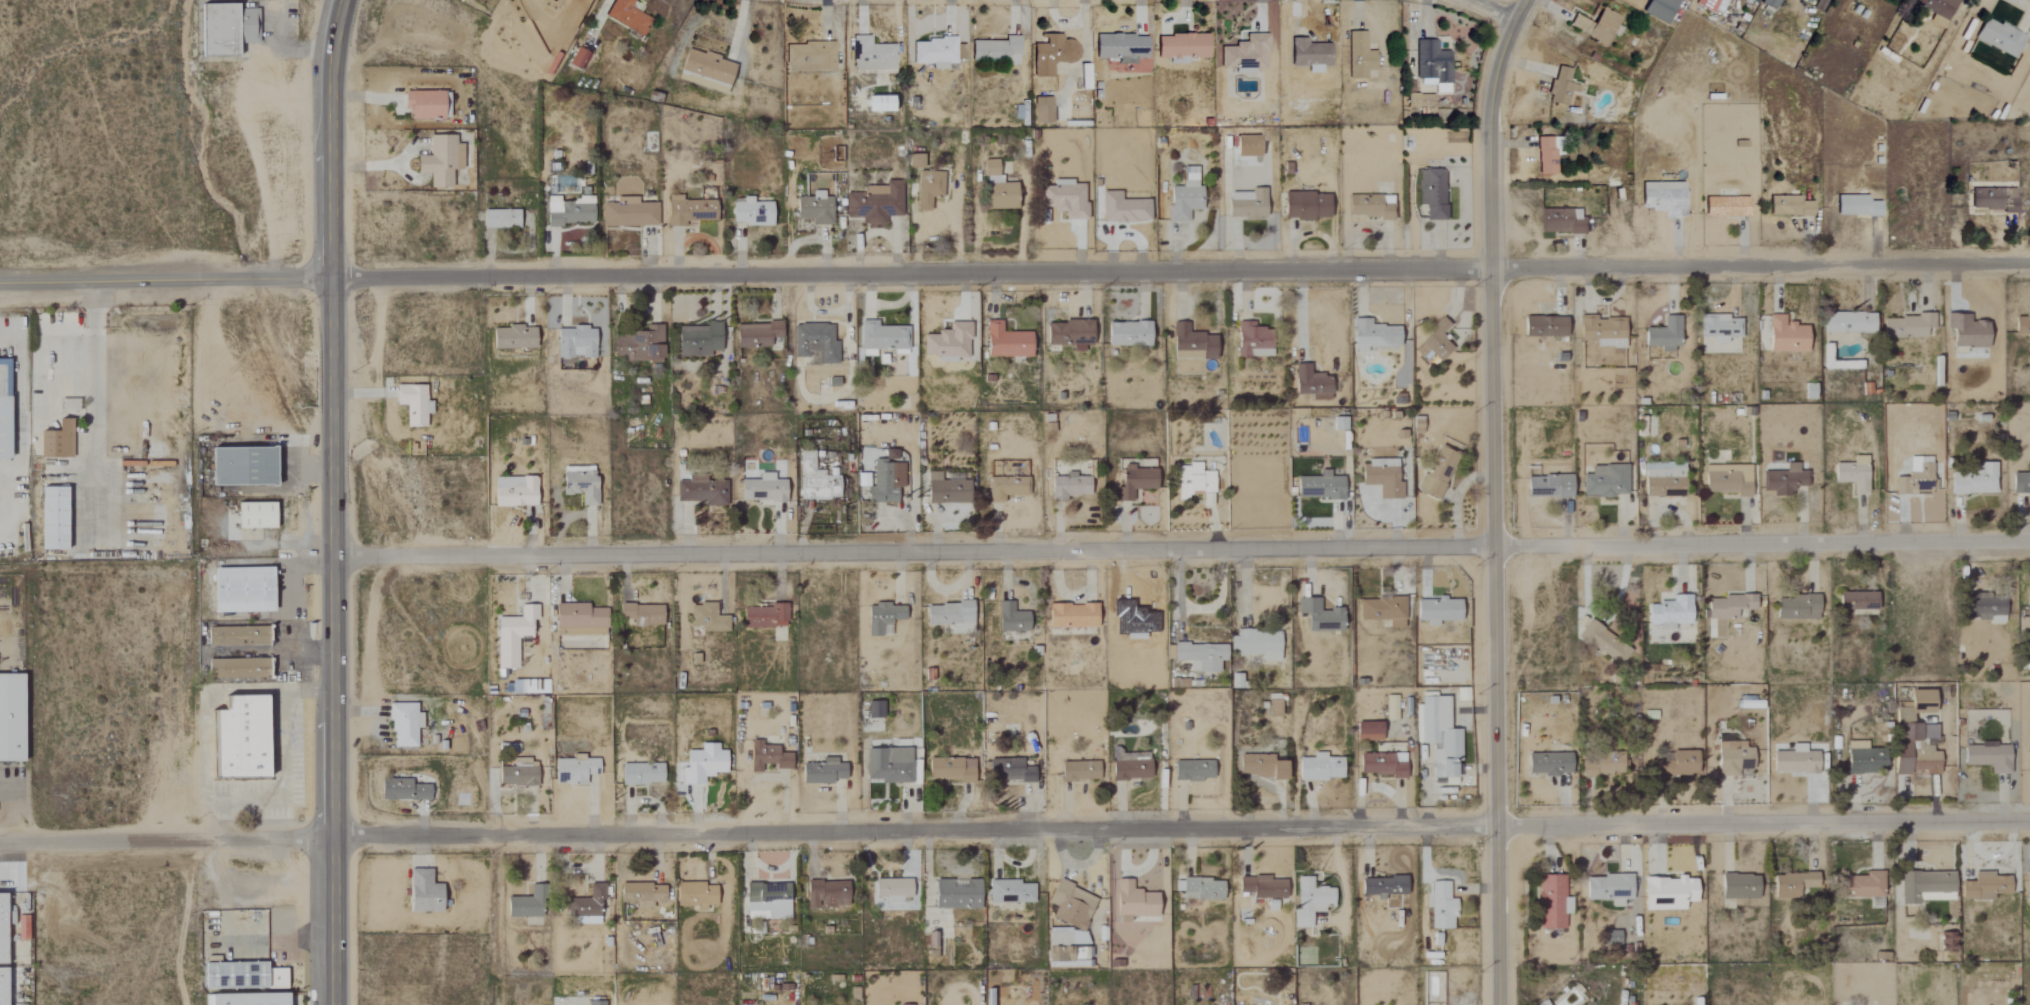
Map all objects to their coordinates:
building: (1769, 4)
building: (1711, 5)
building: (1937, 6)
building: (1659, 9)
road: (1491, 11)
road: (599, 14)
building: (627, 16)
building: (1596, 26)
building: (225, 29)
building: (1999, 37)
building: (1121, 47)
building: (1181, 47)
building: (995, 50)
building: (937, 53)
building: (1245, 53)
building: (1052, 54)
building: (871, 55)
building: (809, 56)
building: (1359, 56)
building: (575, 59)
building: (1432, 66)
building: (704, 71)
building: (1560, 87)
building: (877, 104)
building: (425, 105)
building: (1042, 110)
building: (1247, 146)
building: (1546, 156)
building: (439, 161)
building: (915, 161)
building: (927, 188)
building: (996, 189)
building: (1432, 193)
building: (1664, 198)
building: (1067, 199)
building: (1183, 199)
building: (1993, 200)
building: (874, 203)
building: (1245, 204)
building: (1305, 206)
building: (1369, 206)
building: (1792, 206)
building: (1857, 206)
building: (1726, 207)
building: (1122, 208)
building: (814, 209)
building: (568, 211)
building: (687, 211)
building: (751, 212)
building: (628, 213)
building: (499, 219)
building: (1560, 221)
road: (1180, 273)
road: (164, 281)
building: (1848, 322)
building: (2022, 324)
building: (1907, 325)
building: (1544, 326)
building: (1719, 327)
building: (1602, 331)
building: (1069, 333)
building: (1127, 333)
building: (756, 334)
building: (1664, 334)
building: (1373, 335)
building: (1786, 335)
building: (512, 337)
building: (881, 337)
road: (4, 338)
building: (698, 339)
building: (1252, 340)
building: (1436, 340)
building: (1005, 341)
building: (575, 342)
building: (947, 342)
building: (639, 343)
building: (814, 343)
building: (1192, 343)
building: (1309, 381)
building: (832, 382)
road: (93, 401)
building: (412, 403)
building: (3, 407)
building: (1338, 423)
building: (1417, 424)
building: (55, 440)
building: (240, 465)
building: (1438, 472)
building: (1852, 474)
building: (1381, 477)
building: (1915, 477)
building: (1783, 478)
building: (814, 479)
building: (1727, 479)
building: (1974, 479)
building: (1134, 480)
building: (1663, 480)
building: (1605, 481)
building: (1194, 482)
building: (2020, 482)
building: (579, 483)
building: (881, 483)
building: (1069, 486)
building: (1548, 486)
building: (1006, 487)
building: (1318, 487)
building: (761, 488)
building: (946, 489)
building: (513, 491)
building: (701, 491)
road: (1495, 499)
road: (330, 501)
building: (253, 515)
building: (51, 518)
road: (1180, 548)
building: (240, 589)
building: (1857, 600)
building: (1728, 605)
building: (1797, 607)
building: (1985, 607)
building: (1383, 610)
building: (1437, 610)
building: (1669, 611)
building: (640, 614)
building: (1071, 615)
building: (1319, 615)
building: (764, 616)
building: (950, 616)
building: (706, 617)
building: (882, 618)
building: (1011, 618)
building: (578, 620)
building: (2025, 622)
building: (512, 635)
building: (1604, 642)
building: (1256, 644)
building: (1199, 656)
building: (236, 668)
building: (1749, 702)
building: (1273, 705)
building: (1390, 707)
building: (874, 710)
building: (10, 717)
building: (1903, 718)
building: (403, 724)
building: (1368, 731)
building: (1439, 735)
building: (238, 738)
building: (1732, 756)
building: (766, 757)
building: (1988, 757)
building: (1864, 758)
building: (1793, 759)
building: (2029, 759)
building: (1924, 760)
building: (1899, 762)
building: (701, 763)
building: (1548, 764)
building: (1677, 764)
building: (887, 765)
building: (1380, 765)
building: (1260, 766)
building: (1318, 767)
building: (1600, 767)
building: (950, 769)
building: (573, 770)
building: (1008, 770)
building: (1129, 770)
building: (1192, 770)
building: (822, 771)
building: (1079, 771)
building: (640, 774)
building: (516, 775)
building: (401, 790)
road: (1178, 830)
road: (164, 839)
building: (1792, 884)
building: (1862, 885)
building: (1383, 886)
building: (1738, 886)
building: (1926, 886)
building: (1983, 886)
building: (1263, 887)
building: (1608, 888)
building: (1199, 889)
building: (2027, 889)
building: (891, 890)
building: (422, 891)
building: (1010, 892)
building: (1667, 893)
building: (641, 894)
building: (763, 894)
building: (826, 894)
building: (956, 894)
building: (694, 895)
building: (1312, 895)
building: (1133, 902)
building: (1551, 902)
building: (526, 904)
building: (1070, 905)
building: (1440, 907)
building: (1302, 918)
building: (1, 930)
building: (1611, 937)
building: (241, 976)
building: (1, 986)
building: (244, 999)
building: (595, 1003)

